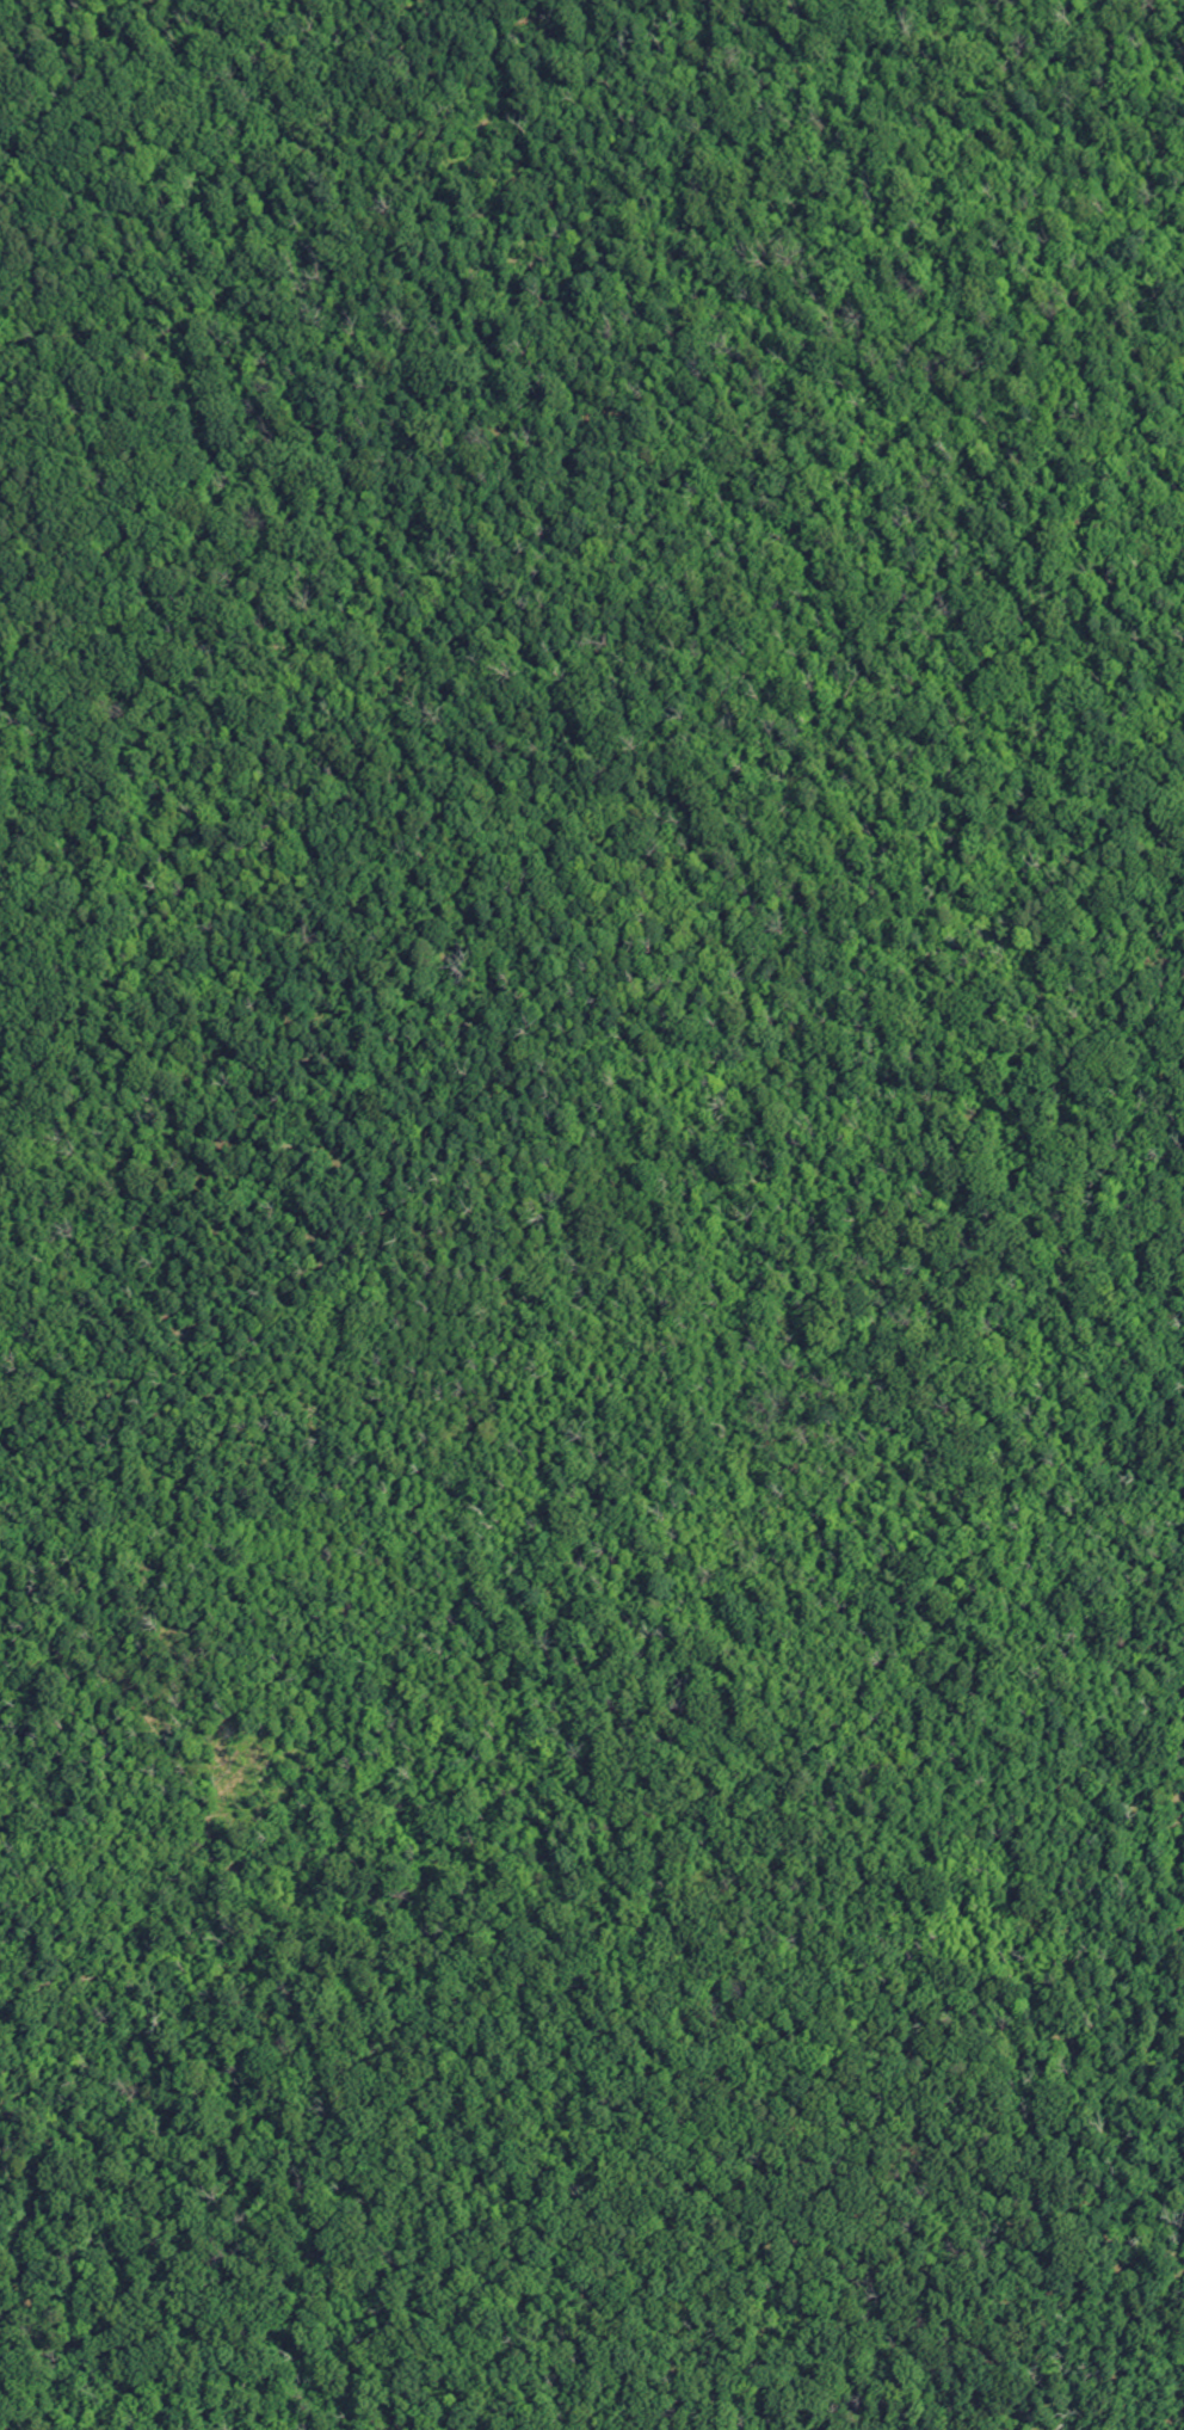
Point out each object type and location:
road: (844, 1195)

